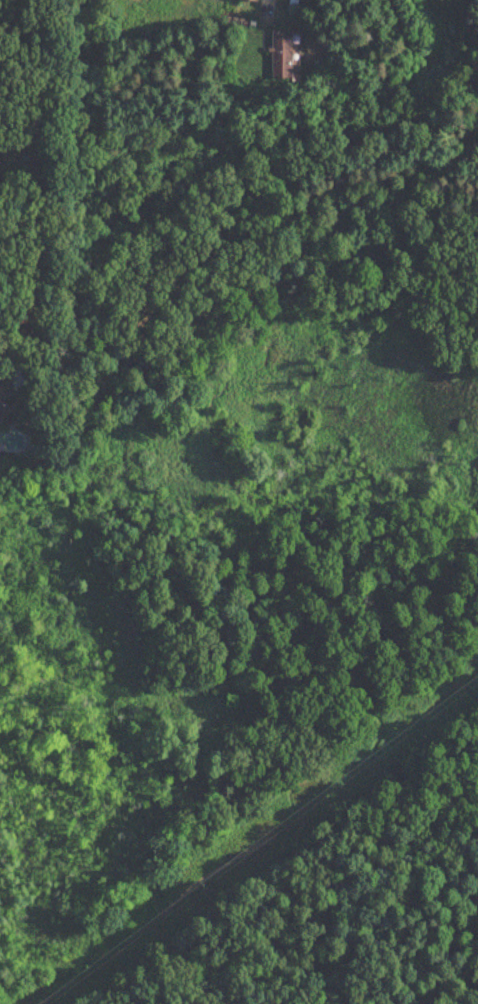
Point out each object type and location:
building: (250, 0)
building: (280, 54)
building: (2, 410)

